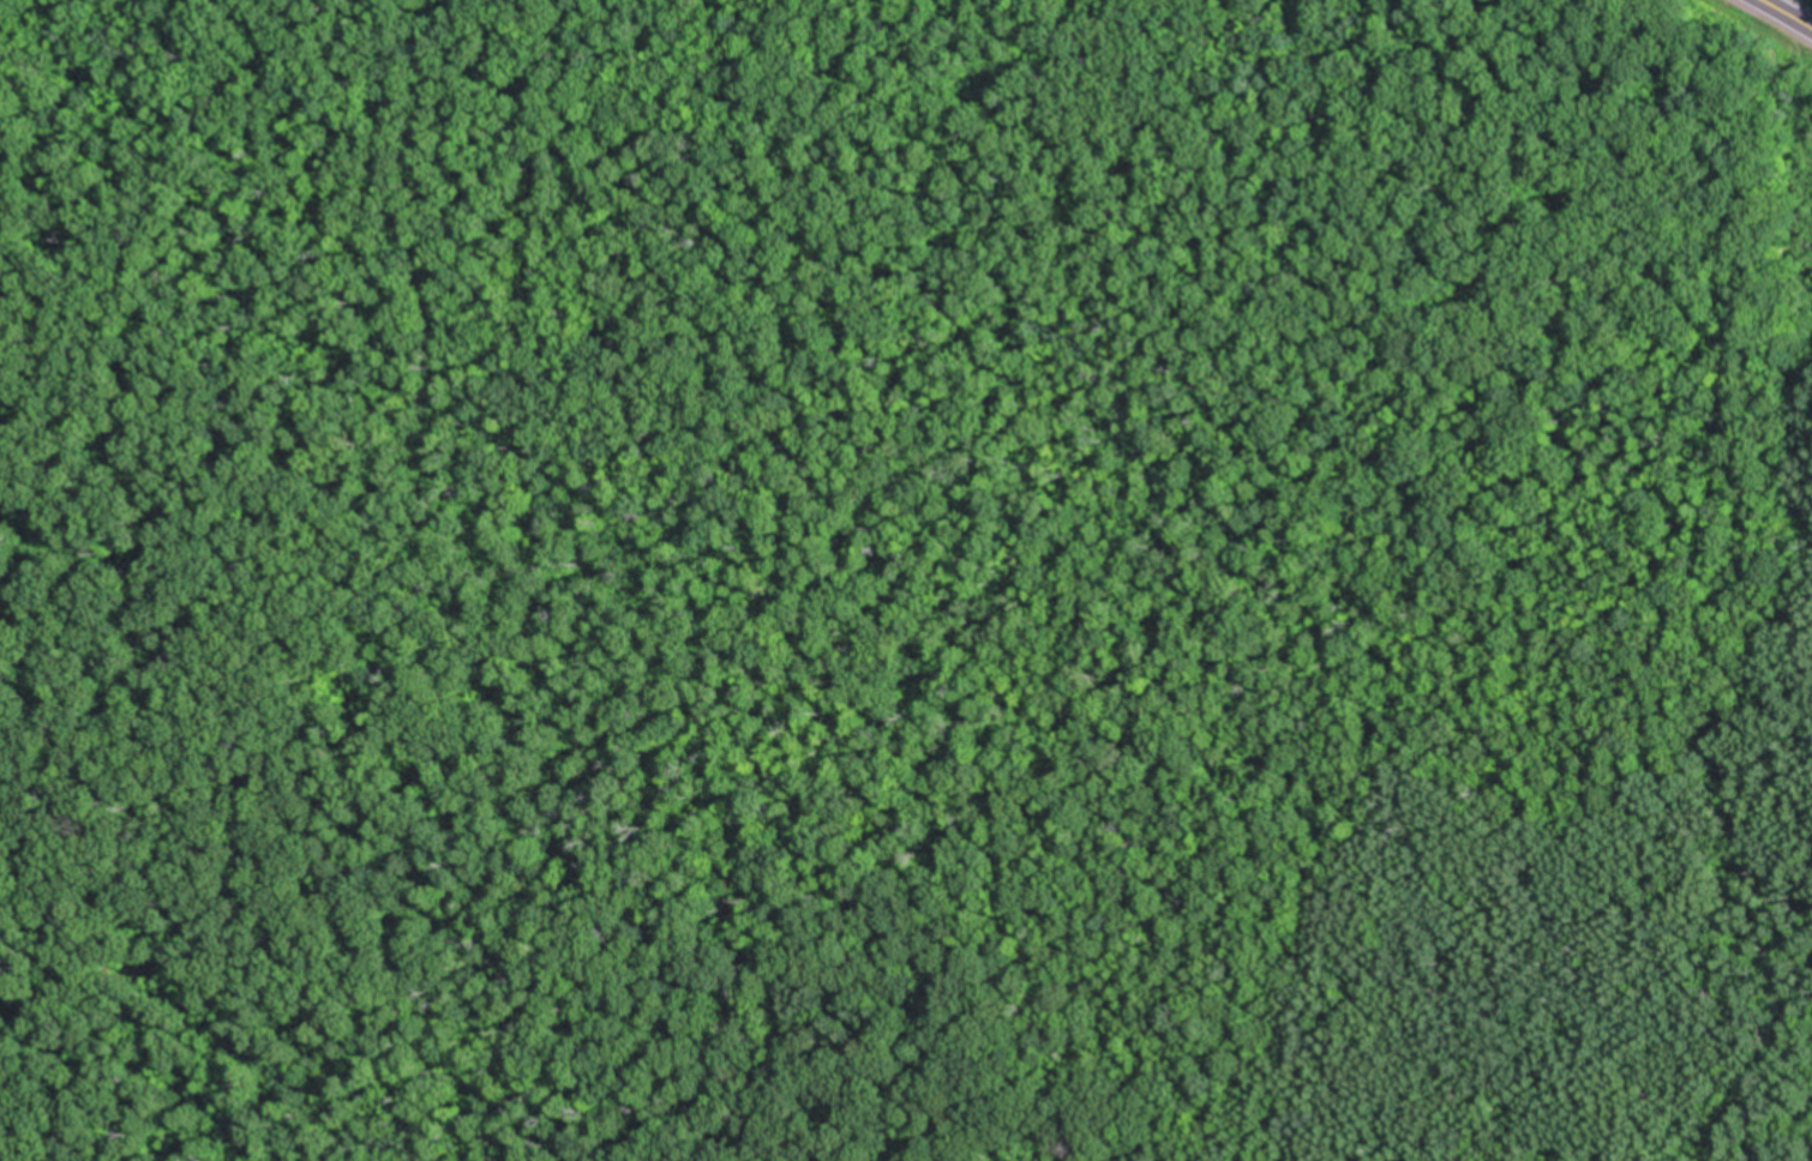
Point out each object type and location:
road: (1792, 12)

